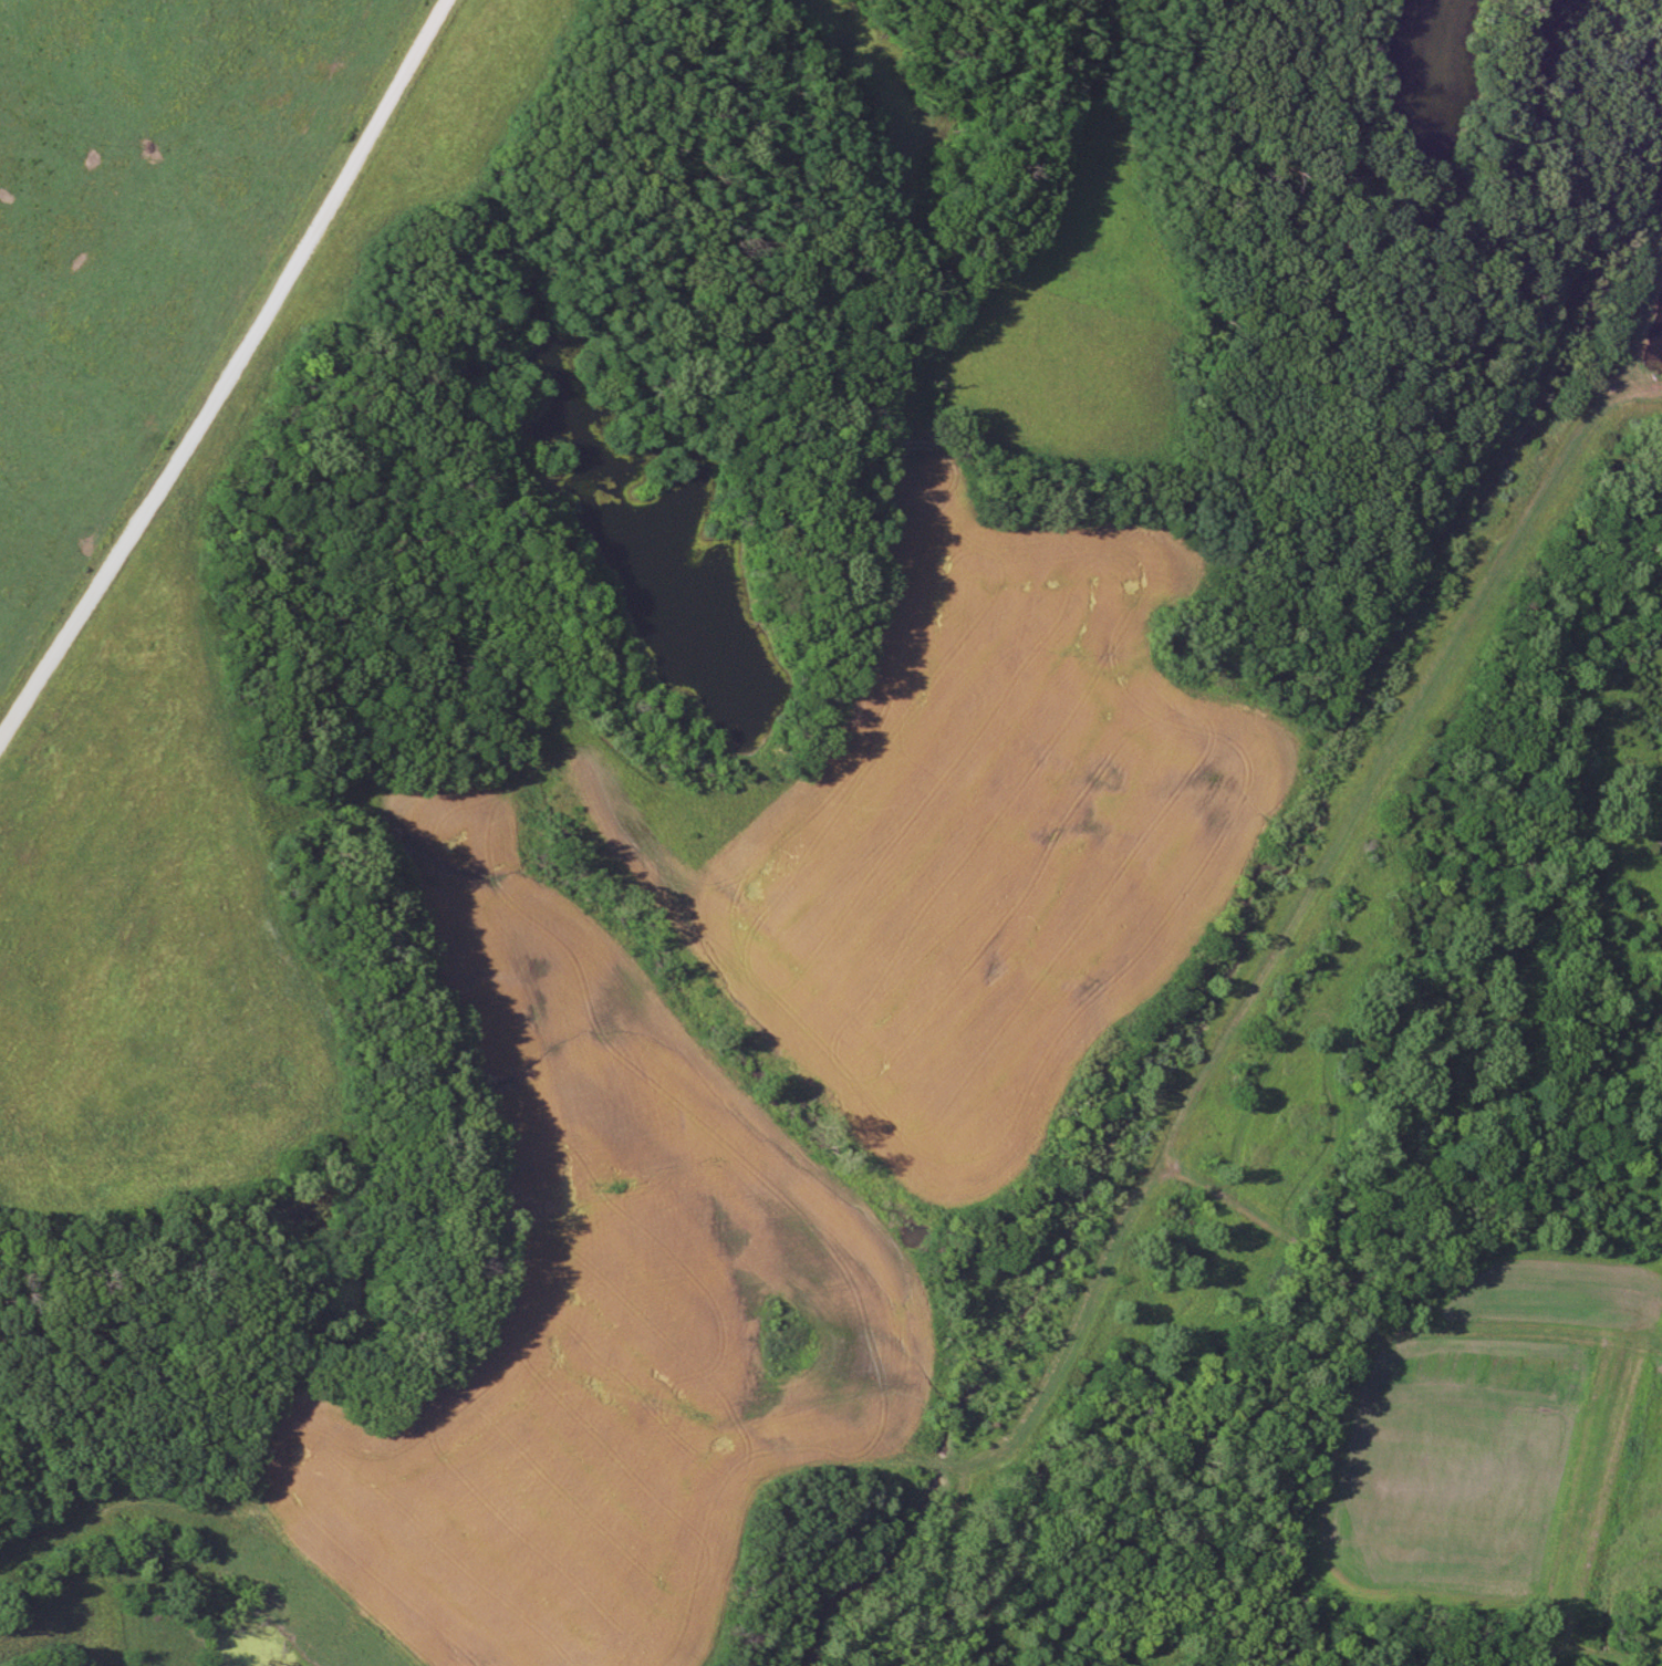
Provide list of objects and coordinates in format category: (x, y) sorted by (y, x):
road: (225, 371)
road: (131, 1488)

